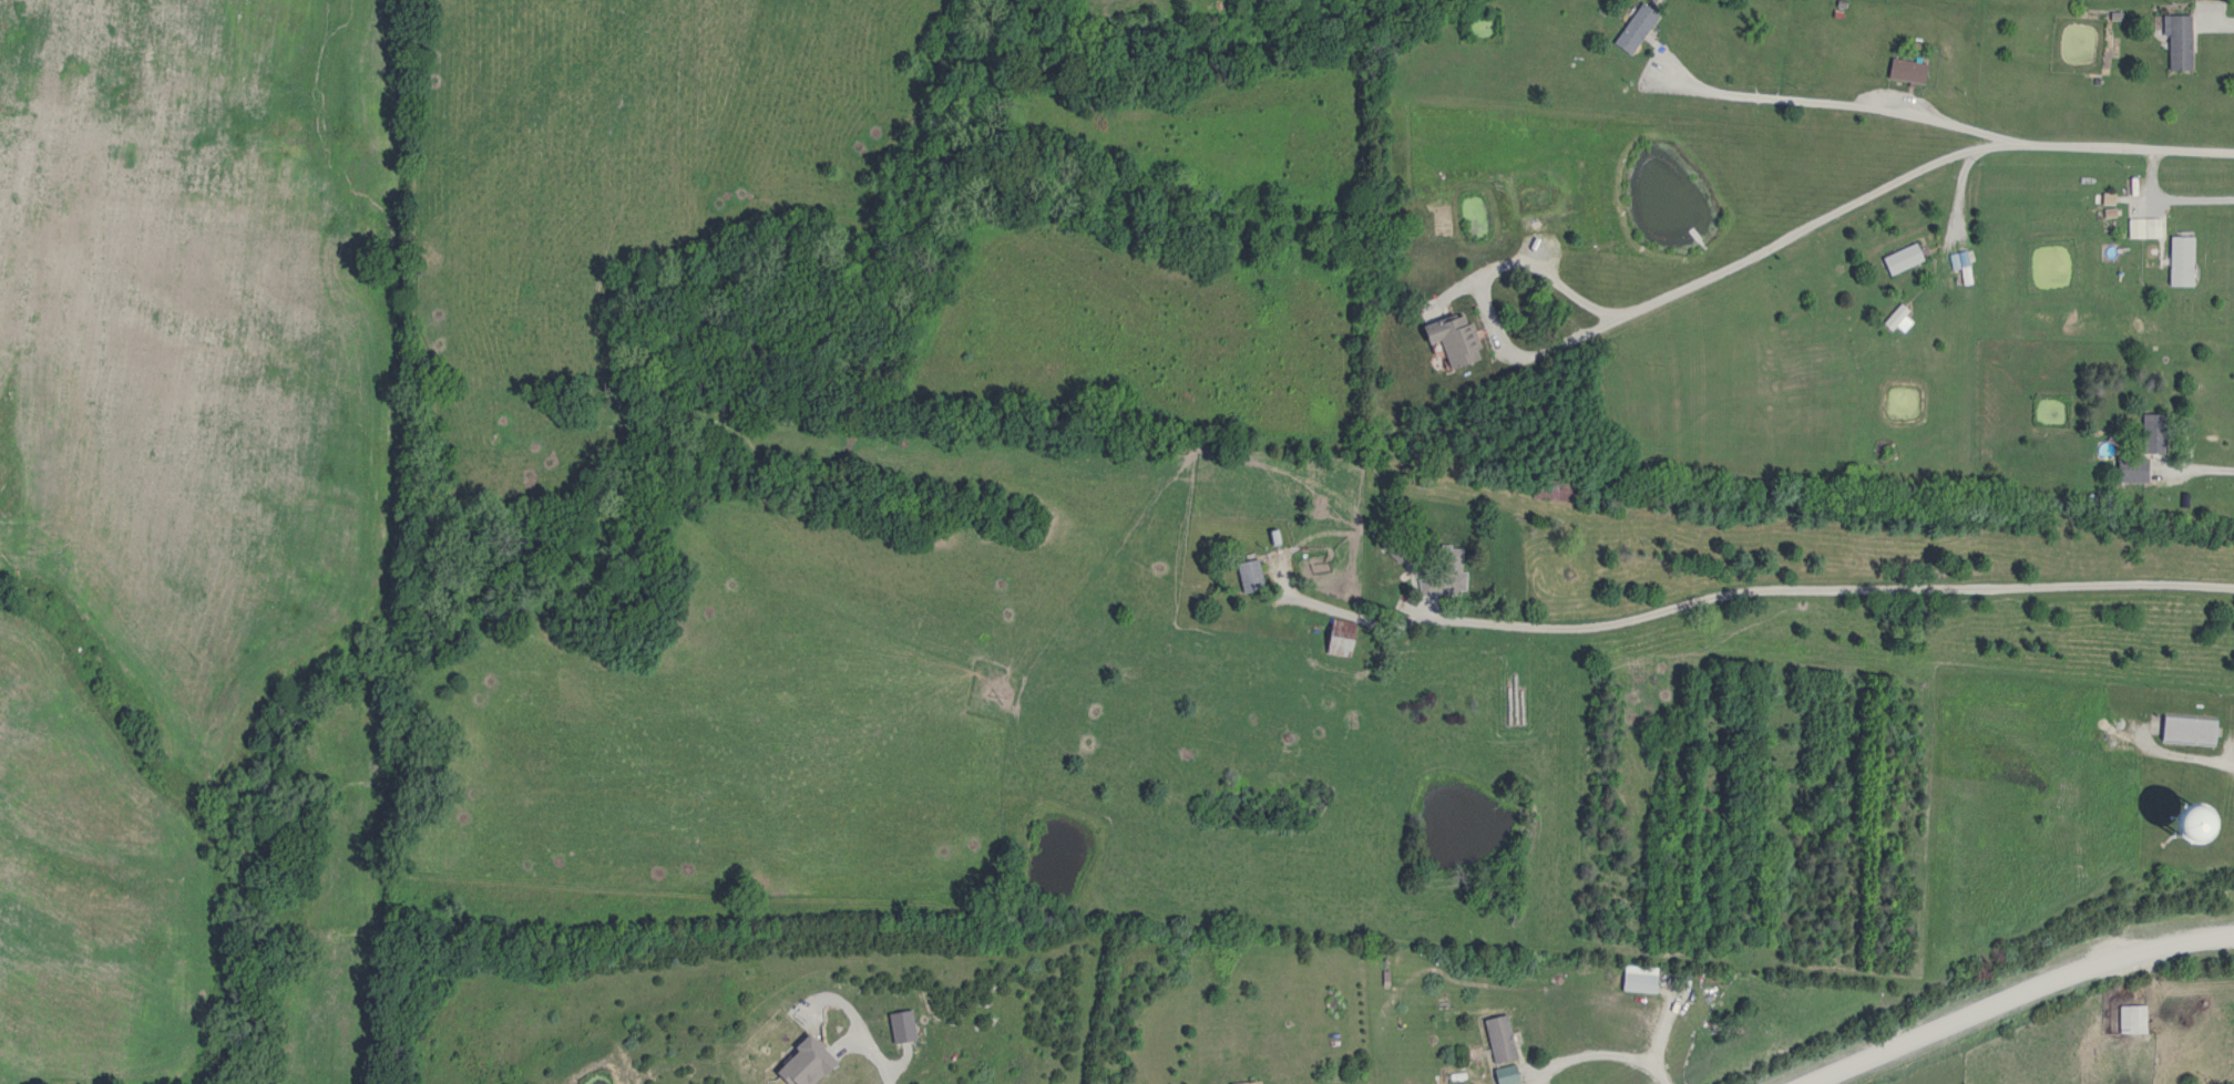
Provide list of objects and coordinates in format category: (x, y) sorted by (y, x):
road: (2211, 25)
building: (1630, 30)
building: (2173, 43)
building: (1904, 72)
road: (1848, 102)
road: (1915, 168)
road: (2164, 202)
building: (2146, 252)
building: (1898, 259)
road: (1479, 296)
building: (1447, 340)
building: (2151, 433)
road: (2197, 464)
building: (2128, 471)
building: (1448, 575)
building: (1247, 576)
road: (1828, 586)
building: (1335, 638)
building: (2183, 729)
road: (2182, 753)
building: (1633, 982)
road: (2018, 995)
building: (2128, 1019)
road: (854, 1024)
road: (1659, 1028)
road: (1597, 1053)
building: (1237, 1083)

